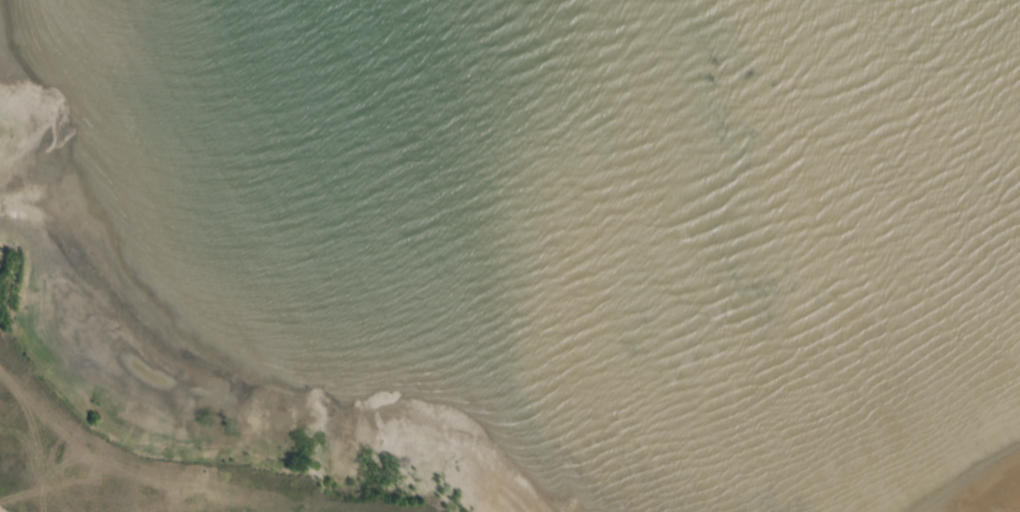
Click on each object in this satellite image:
road: (5, 507)

